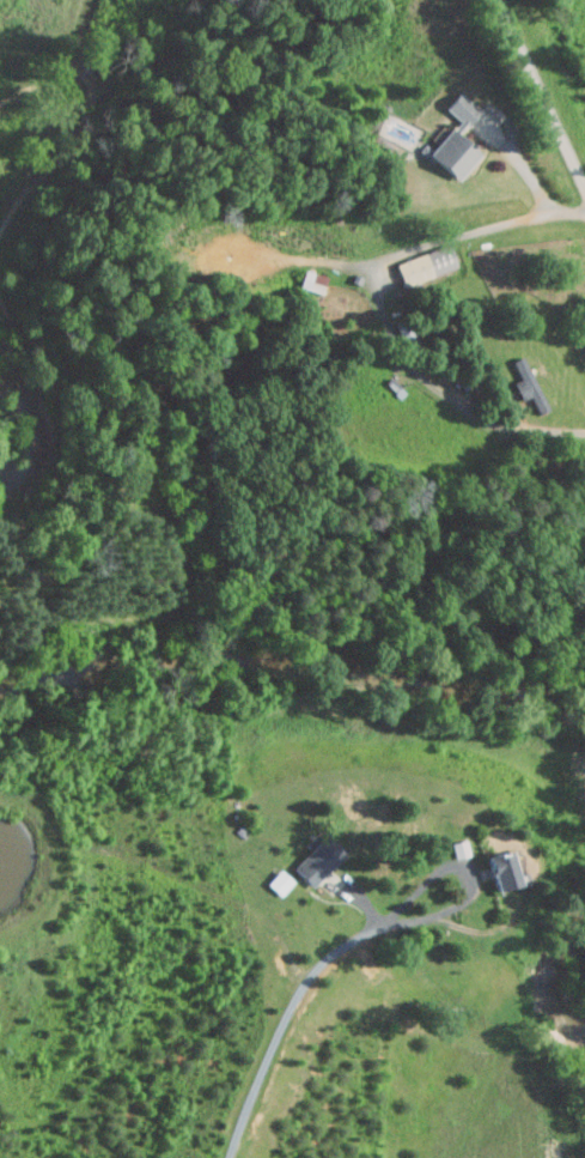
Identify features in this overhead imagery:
road: (543, 92)
building: (453, 138)
road: (450, 240)
building: (425, 263)
building: (311, 280)
building: (526, 384)
road: (534, 429)
building: (317, 860)
building: (499, 869)
road: (468, 877)
building: (279, 881)
road: (282, 1024)

